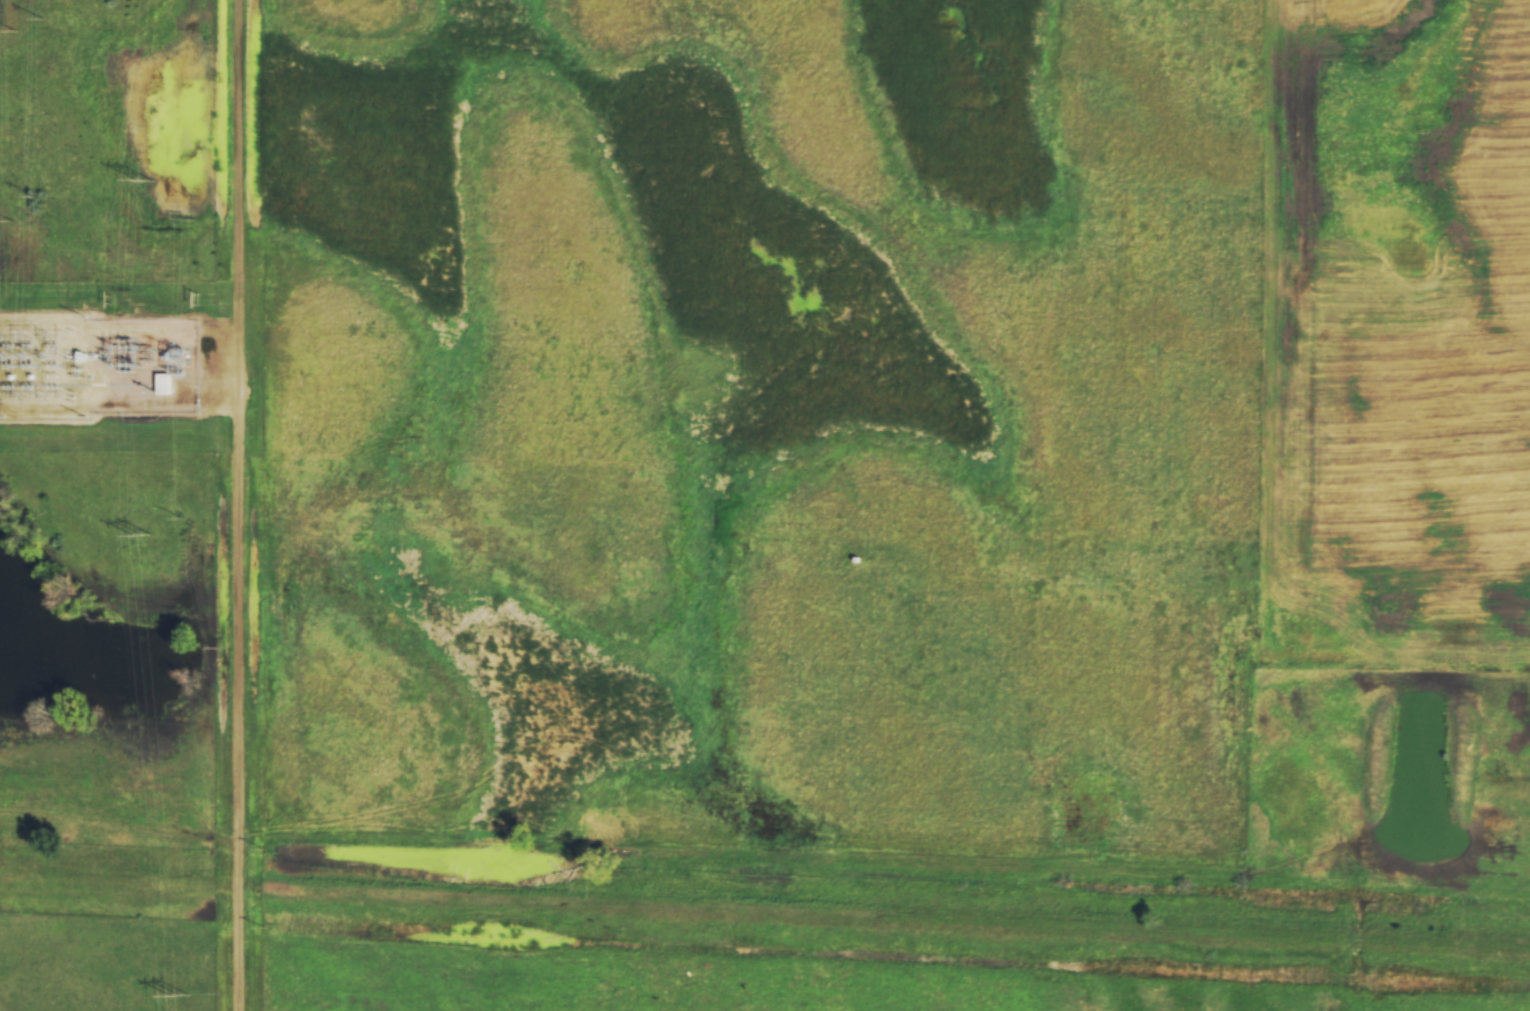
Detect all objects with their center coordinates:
power tower: (145, 181)
power substation: (95, 366)
building: (163, 383)
road: (245, 505)
power tower: (143, 534)
power tower: (180, 995)

